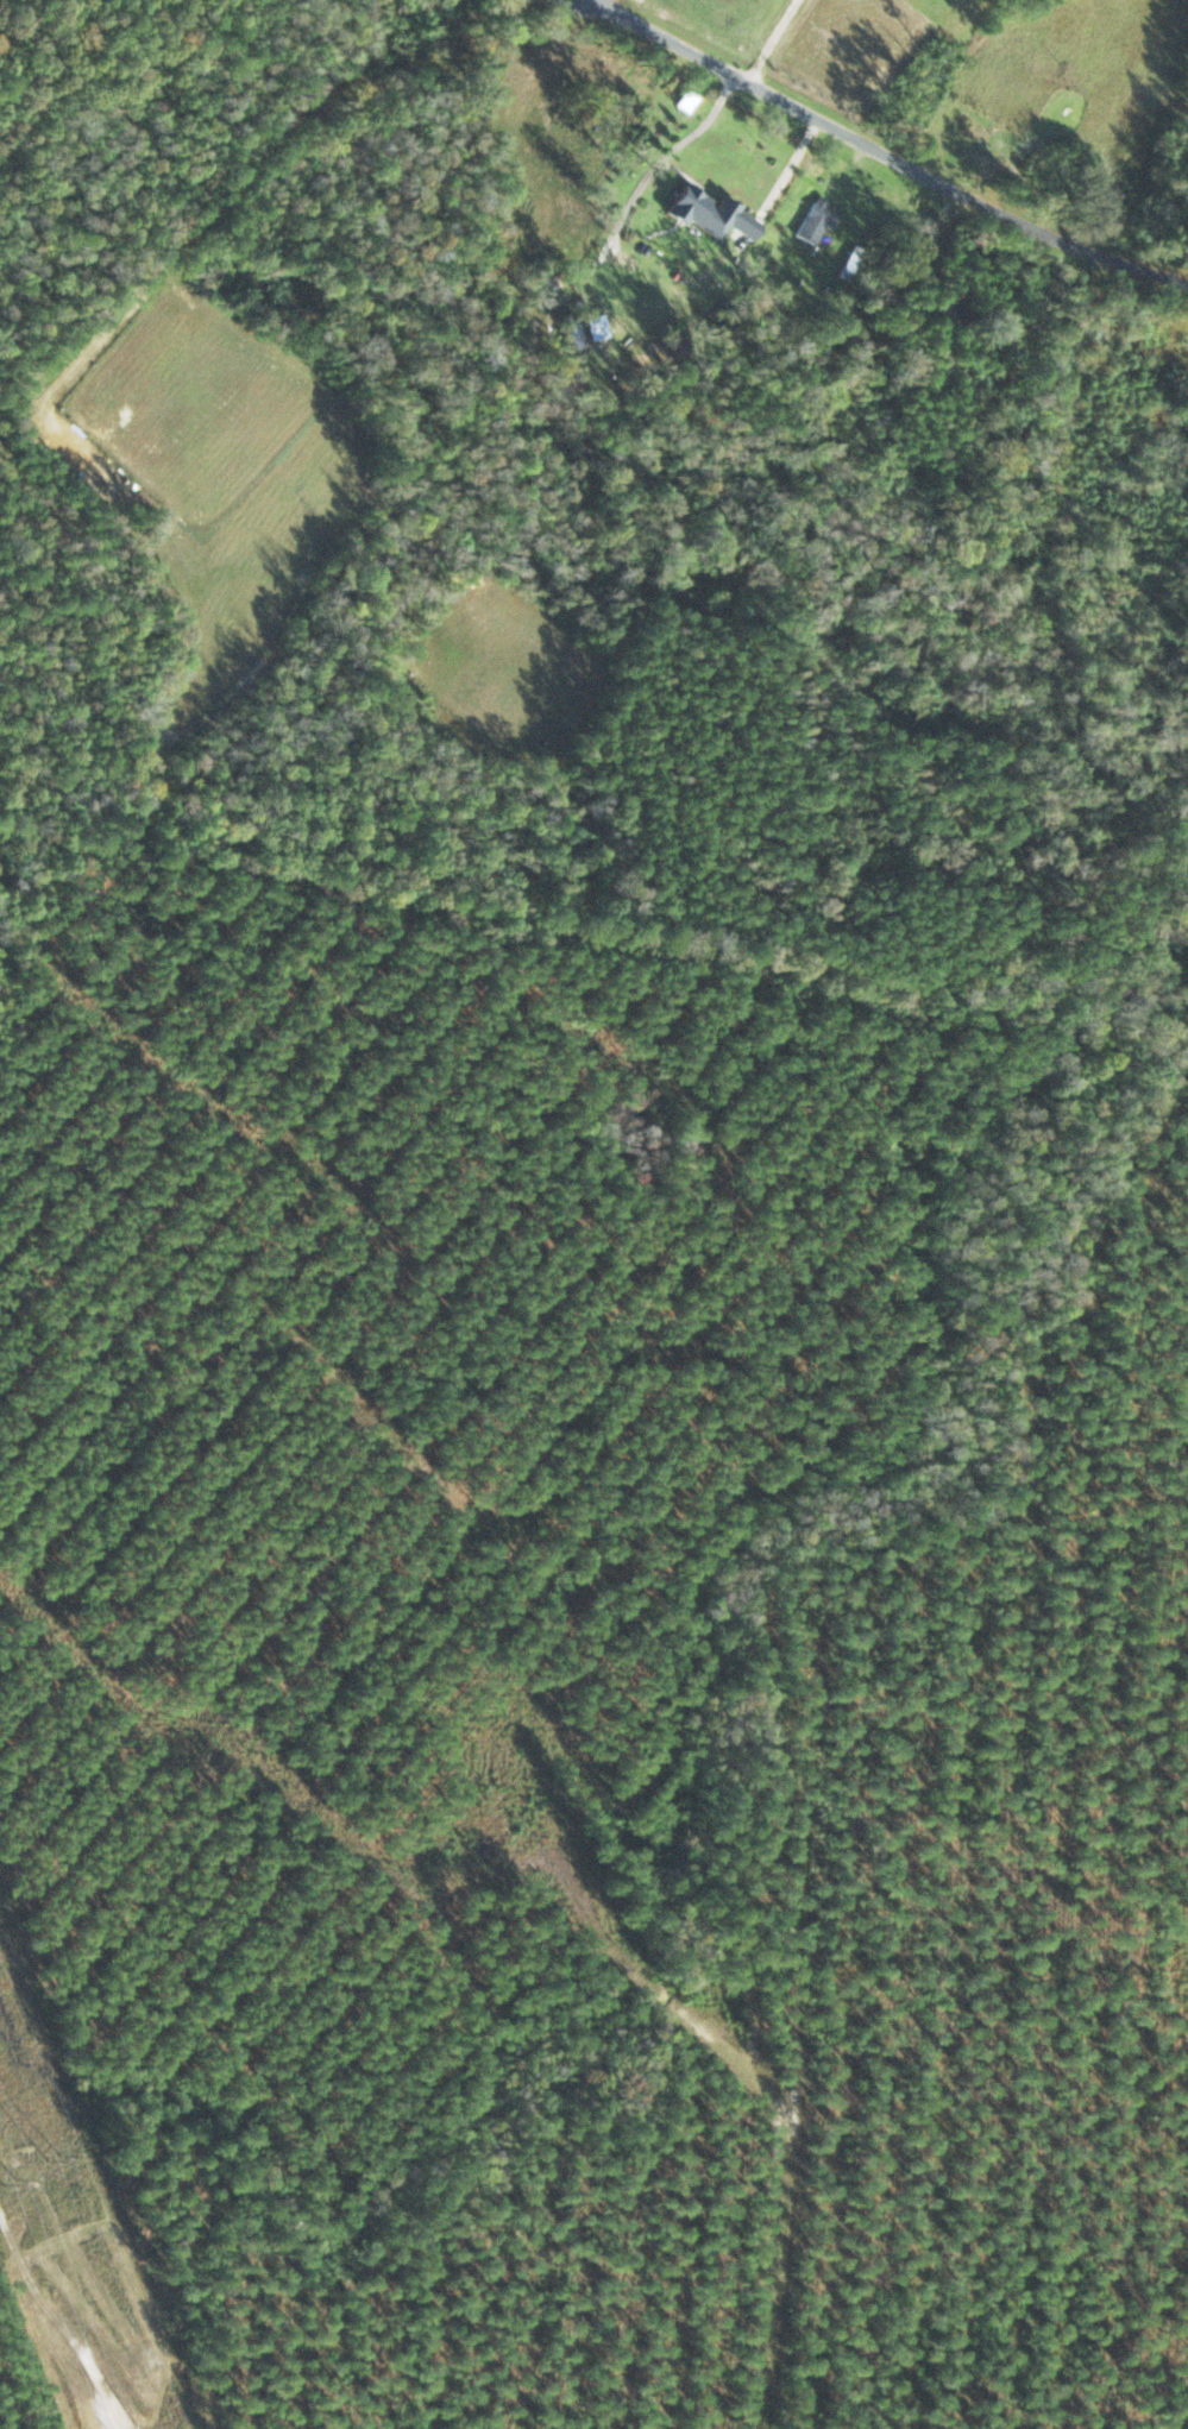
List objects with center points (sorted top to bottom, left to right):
road: (593, 4)
road: (341, 78)
building: (687, 102)
road: (874, 121)
building: (711, 213)
building: (824, 213)
building: (853, 262)
building: (546, 276)
building: (949, 306)
building: (570, 332)
building: (1169, 357)
power tower: (51, 2153)
power tower: (2, 2178)

